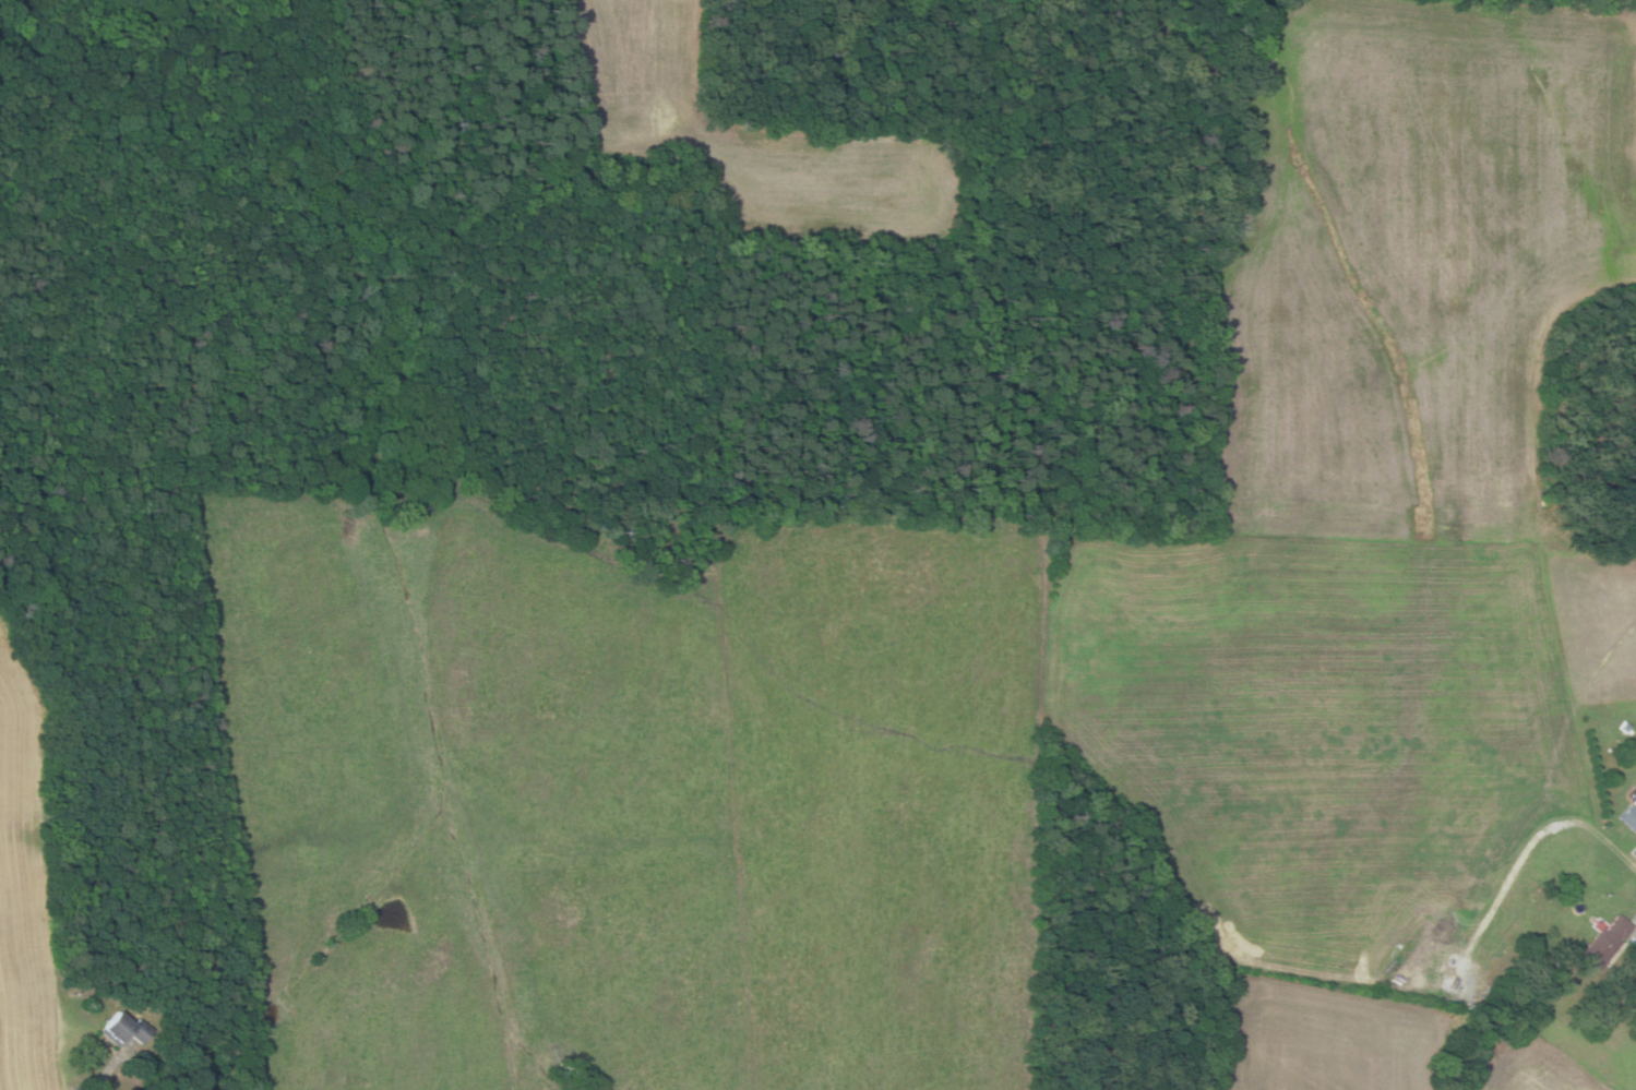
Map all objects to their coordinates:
crop: (751, 141)
crop: (1376, 508)
building: (1626, 727)
building: (1635, 801)
building: (1628, 818)
crop: (23, 883)
building: (1604, 943)
building: (123, 1029)
crop: (1319, 1040)
crop: (1531, 1067)

